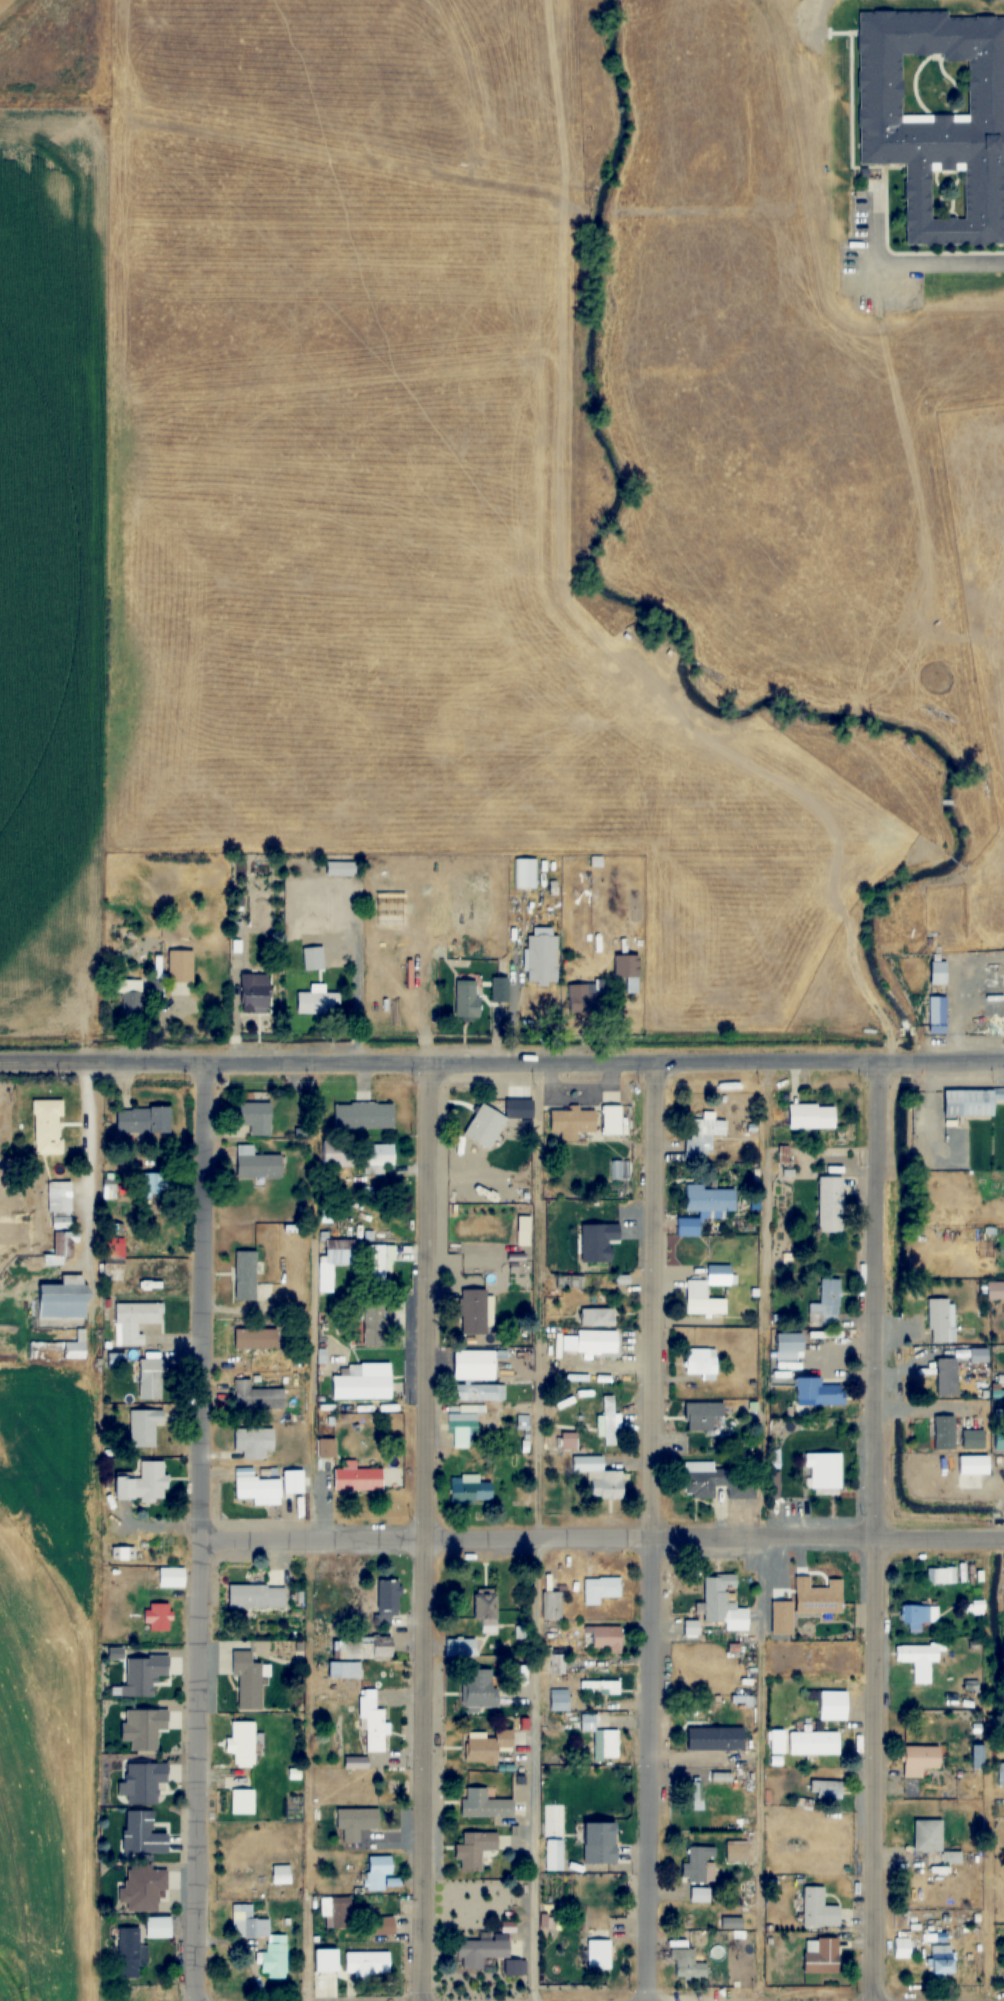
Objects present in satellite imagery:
building: (937, 119)
road: (907, 263)
crop: (517, 477)
building: (341, 868)
building: (524, 873)
building: (313, 958)
building: (542, 960)
building: (181, 965)
building: (628, 971)
building: (939, 972)
building: (500, 989)
building: (255, 992)
building: (132, 998)
building: (583, 998)
building: (467, 999)
building: (318, 1002)
building: (940, 1009)
road: (550, 1060)
road: (48, 1061)
building: (972, 1102)
building: (364, 1116)
building: (256, 1117)
building: (813, 1117)
building: (143, 1120)
building: (613, 1120)
building: (573, 1123)
building: (47, 1126)
building: (485, 1126)
building: (704, 1135)
building: (337, 1153)
building: (375, 1157)
building: (258, 1163)
building: (158, 1183)
building: (109, 1186)
building: (710, 1200)
building: (59, 1205)
building: (831, 1205)
building: (689, 1226)
building: (63, 1246)
building: (378, 1263)
building: (246, 1275)
building: (622, 1284)
building: (697, 1291)
building: (996, 1291)
building: (65, 1299)
building: (829, 1301)
building: (474, 1311)
building: (597, 1317)
building: (942, 1320)
building: (134, 1321)
building: (375, 1322)
building: (256, 1339)
building: (598, 1341)
building: (790, 1347)
building: (59, 1348)
building: (979, 1355)
building: (115, 1360)
building: (700, 1361)
building: (475, 1364)
building: (948, 1377)
building: (150, 1379)
building: (361, 1385)
building: (820, 1391)
building: (481, 1392)
building: (256, 1396)
building: (703, 1415)
building: (607, 1421)
building: (144, 1426)
building: (461, 1429)
building: (945, 1432)
building: (974, 1438)
building: (1000, 1439)
building: (253, 1442)
building: (326, 1447)
building: (973, 1465)
building: (824, 1470)
building: (358, 1477)
building: (600, 1478)
building: (703, 1479)
building: (144, 1483)
building: (256, 1488)
building: (473, 1489)
road: (198, 1530)
road: (537, 1530)
road: (650, 1530)
road: (761, 1530)
road: (874, 1530)
road: (424, 1531)
road: (600, 1535)
building: (123, 1552)
building: (170, 1577)
building: (600, 1589)
building: (256, 1596)
road: (308, 1596)
building: (388, 1601)
building: (722, 1603)
building: (552, 1605)
building: (979, 1608)
building: (487, 1609)
building: (157, 1616)
building: (919, 1616)
building: (605, 1638)
building: (461, 1647)
building: (363, 1648)
building: (918, 1660)
building: (552, 1662)
building: (344, 1670)
building: (143, 1674)
building: (519, 1675)
building: (247, 1681)
building: (480, 1687)
building: (599, 1687)
building: (558, 1699)
building: (833, 1705)
building: (372, 1722)
building: (144, 1728)
building: (601, 1736)
building: (715, 1740)
building: (241, 1742)
building: (803, 1743)
building: (487, 1746)
building: (978, 1756)
building: (921, 1760)
building: (356, 1763)
building: (144, 1782)
building: (827, 1790)
building: (242, 1802)
building: (484, 1804)
building: (355, 1822)
building: (143, 1834)
building: (929, 1835)
building: (600, 1843)
building: (475, 1850)
building: (736, 1851)
building: (553, 1854)
building: (699, 1865)
building: (377, 1871)
building: (143, 1889)
building: (700, 1895)
building: (818, 1908)
building: (335, 1912)
building: (686, 1924)
building: (383, 1925)
building: (157, 1927)
building: (276, 1944)
building: (901, 1947)
building: (127, 1952)
building: (481, 1952)
building: (598, 1953)
building: (820, 1955)
building: (943, 1959)
building: (366, 1963)
building: (688, 1965)

